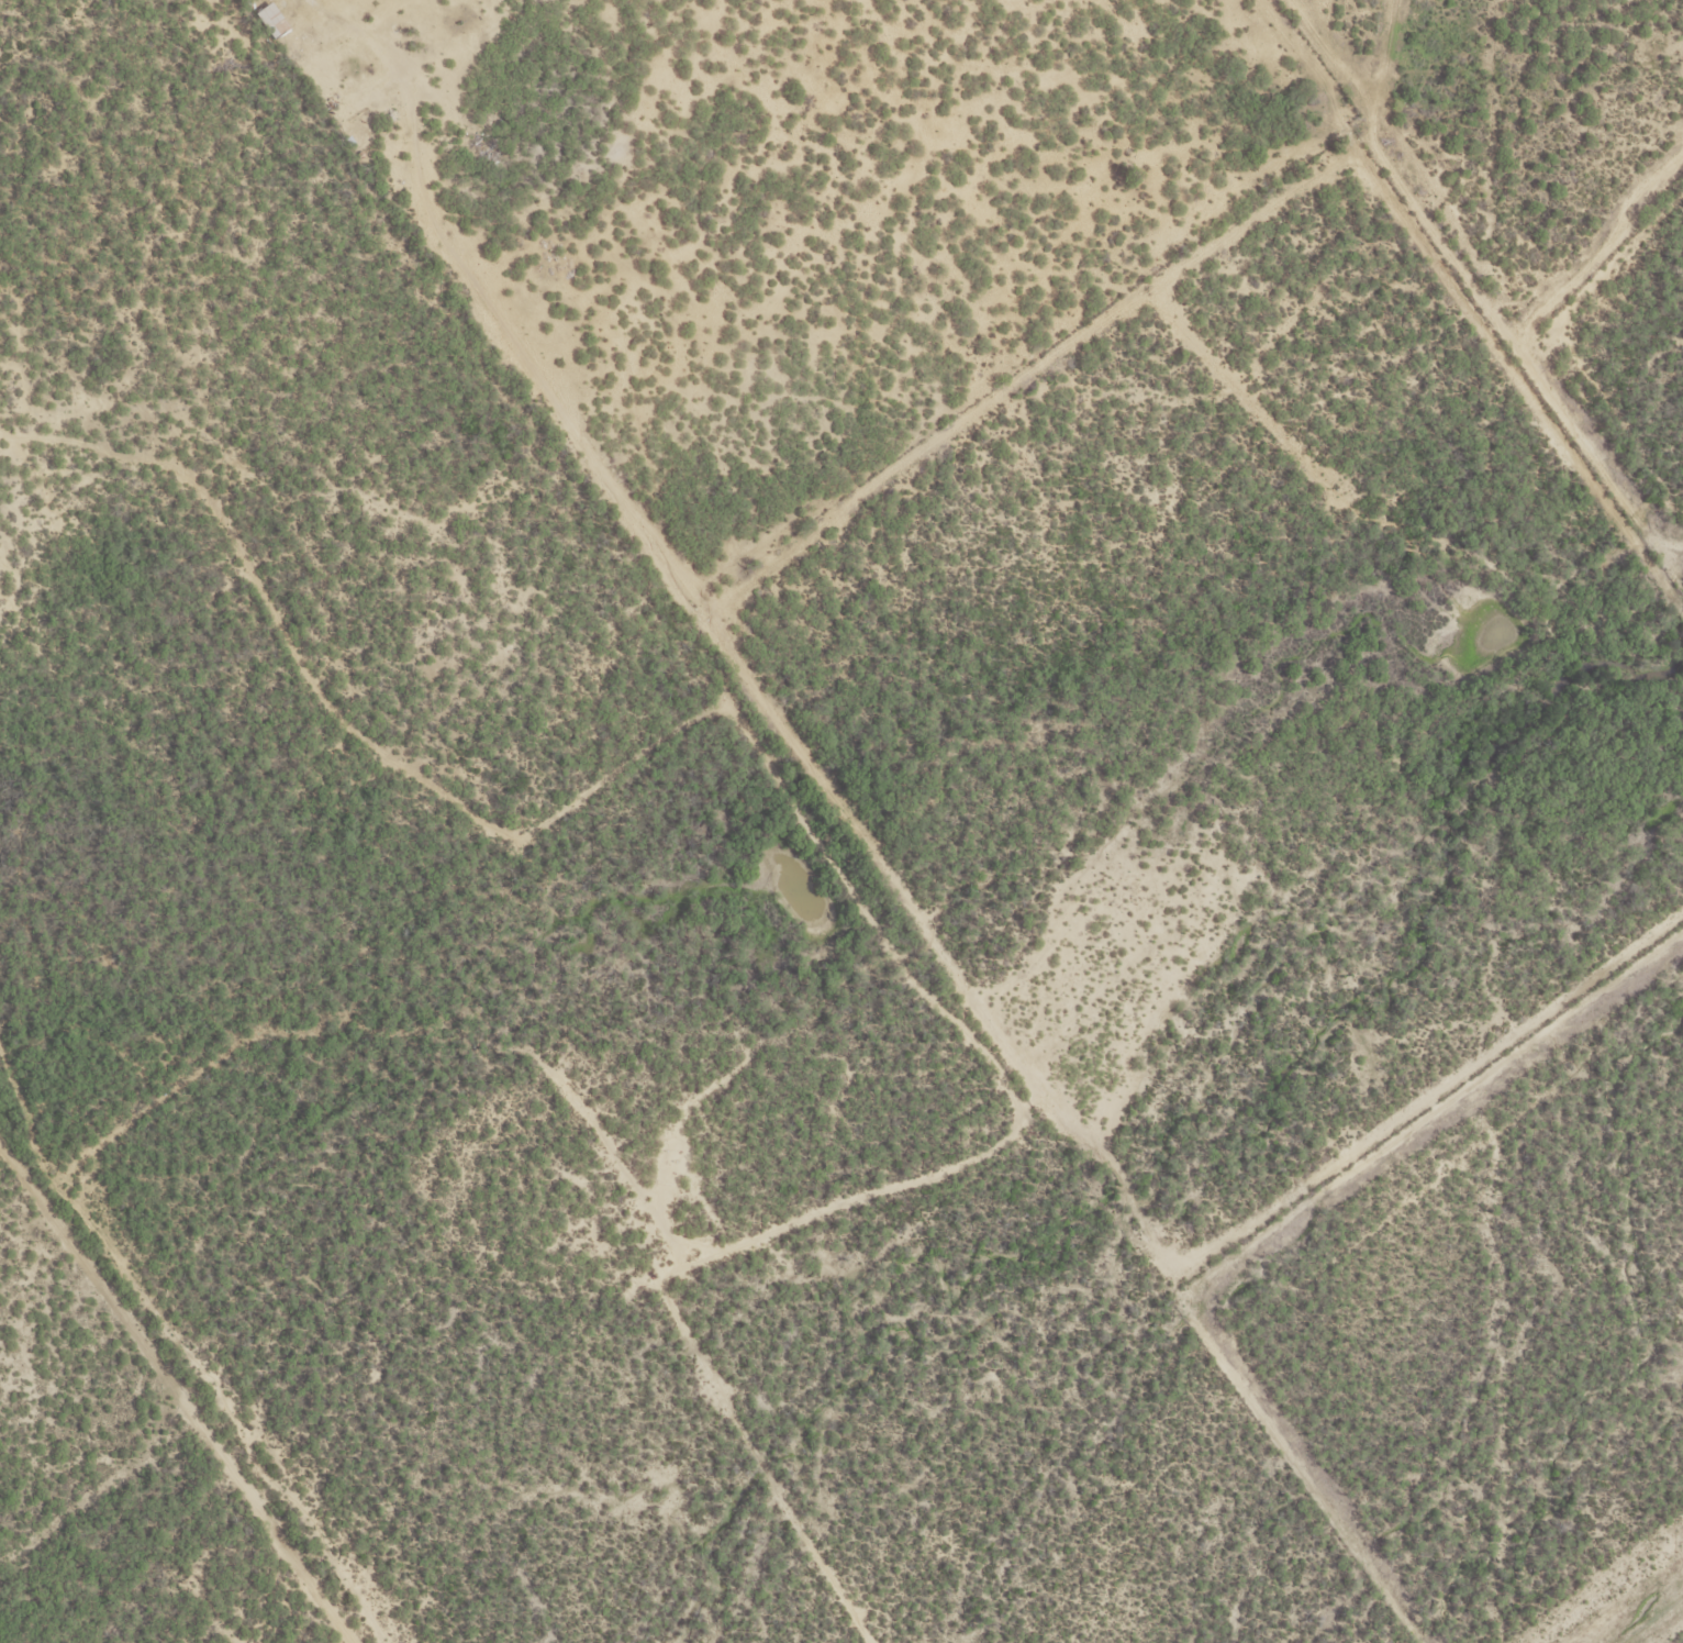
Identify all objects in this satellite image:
building: (274, 21)
road: (154, 1422)
road: (120, 1559)

